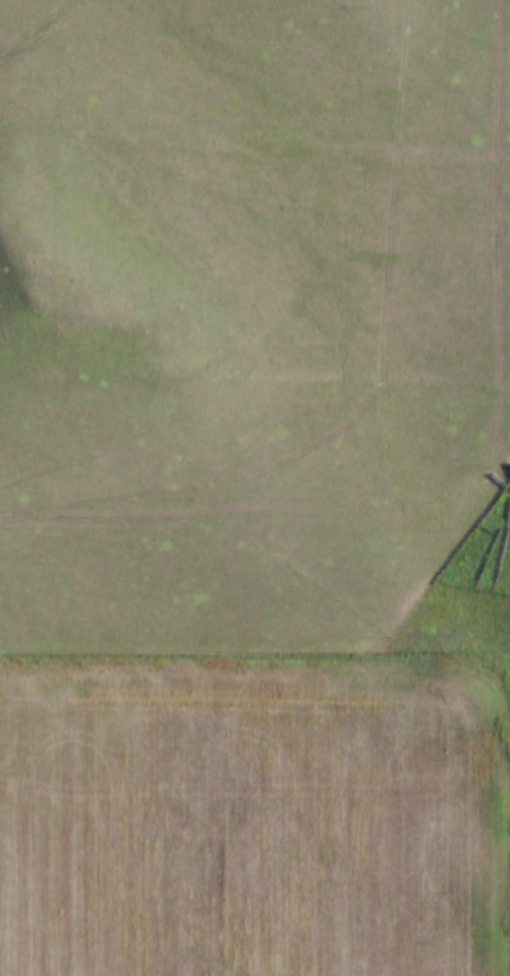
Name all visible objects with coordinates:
road: (49, 37)

